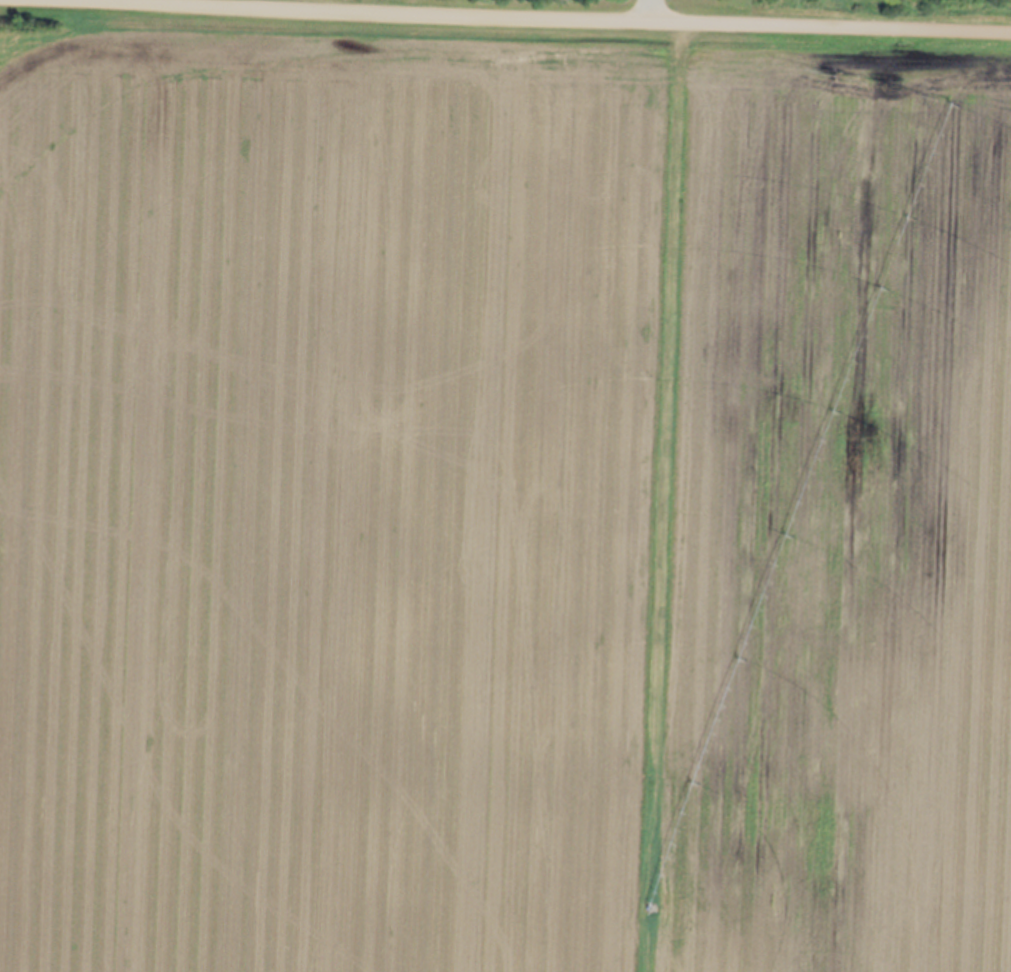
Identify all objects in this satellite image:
road: (551, 13)
crop: (502, 498)

